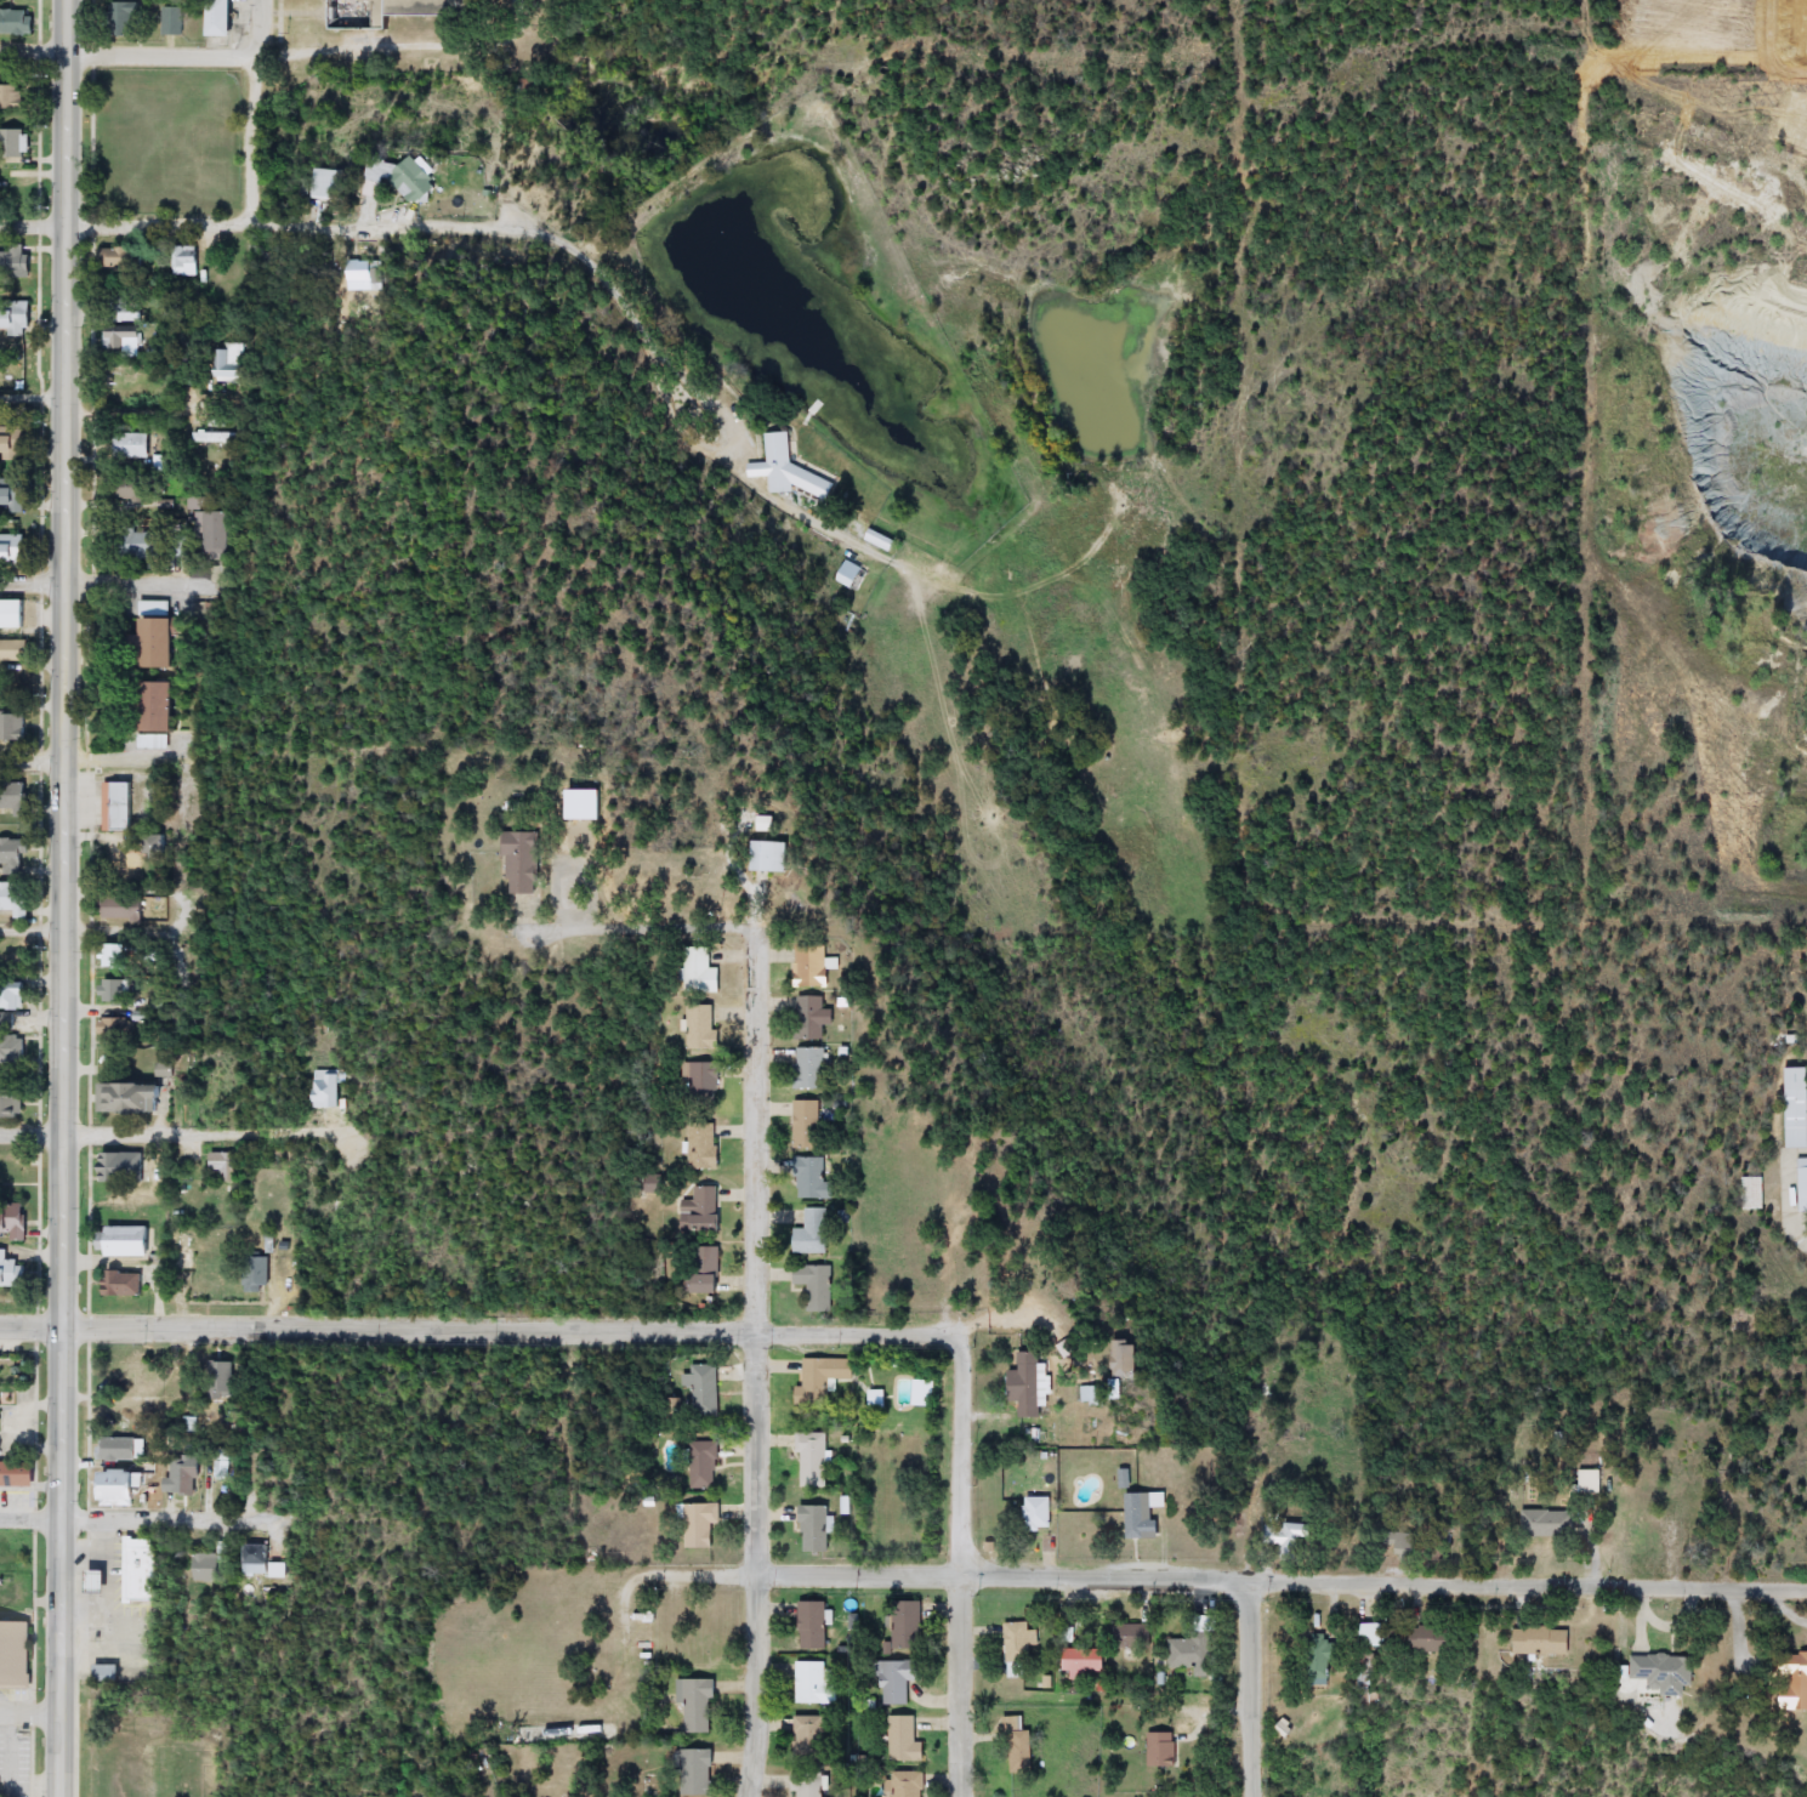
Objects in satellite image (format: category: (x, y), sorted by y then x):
building: (394, 11)
building: (225, 18)
building: (125, 19)
building: (174, 21)
building: (17, 23)
road: (33, 53)
road: (161, 53)
building: (12, 97)
road: (256, 109)
building: (12, 143)
building: (402, 180)
building: (330, 186)
road: (33, 223)
road: (532, 227)
building: (121, 260)
building: (186, 261)
building: (16, 265)
building: (360, 275)
building: (15, 320)
building: (124, 337)
building: (229, 360)
road: (33, 399)
building: (215, 437)
building: (13, 443)
building: (135, 445)
building: (791, 473)
building: (12, 493)
building: (209, 529)
building: (143, 544)
building: (13, 548)
building: (852, 575)
road: (132, 578)
road: (32, 579)
building: (153, 608)
building: (13, 614)
building: (158, 644)
building: (15, 652)
building: (157, 715)
building: (12, 727)
road: (33, 757)
road: (115, 757)
building: (13, 797)
building: (118, 807)
building: (12, 857)
building: (773, 857)
building: (522, 863)
building: (16, 898)
road: (62, 898)
building: (125, 906)
road: (660, 928)
road: (30, 929)
road: (120, 929)
building: (115, 956)
building: (813, 966)
building: (701, 972)
building: (114, 993)
building: (12, 996)
building: (811, 1018)
building: (6, 1022)
building: (703, 1027)
building: (117, 1030)
building: (12, 1050)
building: (811, 1069)
building: (704, 1080)
building: (328, 1090)
building: (136, 1099)
building: (10, 1104)
building: (1791, 1119)
building: (807, 1125)
road: (211, 1127)
road: (29, 1133)
building: (705, 1147)
building: (226, 1166)
building: (121, 1168)
building: (13, 1170)
building: (807, 1177)
building: (1801, 1184)
building: (697, 1209)
building: (13, 1221)
building: (806, 1234)
building: (126, 1241)
building: (12, 1270)
building: (698, 1272)
building: (258, 1274)
building: (125, 1284)
building: (812, 1286)
road: (995, 1320)
road: (29, 1326)
road: (508, 1330)
road: (756, 1363)
building: (1115, 1366)
building: (221, 1380)
building: (816, 1381)
building: (1021, 1386)
building: (700, 1391)
building: (871, 1400)
building: (0, 1405)
building: (133, 1418)
building: (193, 1424)
building: (1007, 1431)
building: (120, 1449)
building: (809, 1460)
building: (223, 1465)
building: (700, 1465)
building: (18, 1474)
building: (184, 1474)
building: (1585, 1480)
building: (124, 1486)
road: (29, 1488)
road: (964, 1499)
building: (1669, 1509)
building: (1033, 1514)
building: (1133, 1515)
road: (29, 1519)
road: (164, 1519)
building: (1545, 1523)
building: (695, 1524)
building: (809, 1528)
building: (1636, 1529)
building: (1282, 1537)
building: (256, 1560)
building: (212, 1564)
building: (137, 1569)
building: (277, 1570)
road: (1220, 1579)
building: (100, 1581)
building: (809, 1625)
building: (903, 1628)
building: (1125, 1636)
building: (1424, 1638)
building: (1534, 1640)
building: (1018, 1642)
building: (1176, 1651)
building: (15, 1654)
building: (1079, 1656)
building: (1312, 1659)
building: (107, 1673)
building: (1657, 1673)
building: (893, 1681)
building: (1789, 1681)
building: (809, 1682)
road: (1250, 1688)
building: (698, 1704)
road: (29, 1713)
building: (806, 1735)
building: (900, 1739)
building: (1157, 1750)
building: (698, 1772)
building: (900, 1784)
building: (805, 1785)
building: (1, 1791)

